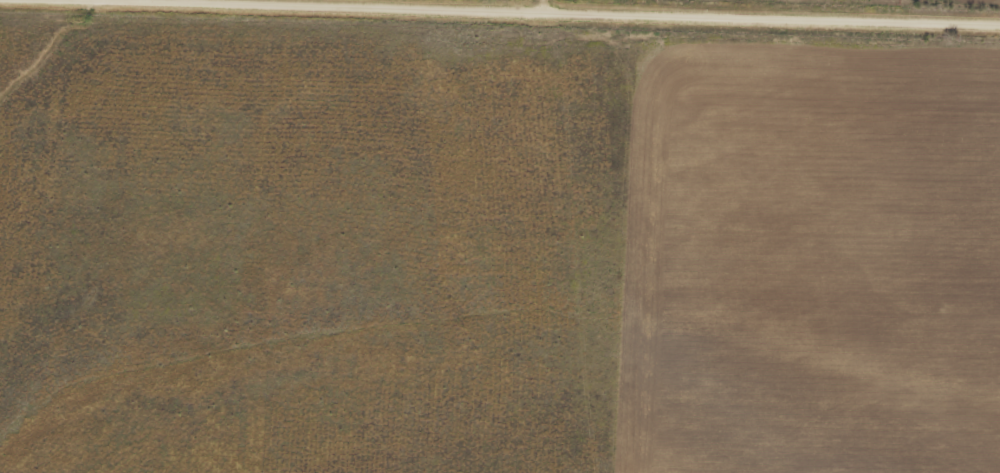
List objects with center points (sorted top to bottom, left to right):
road: (500, 23)

